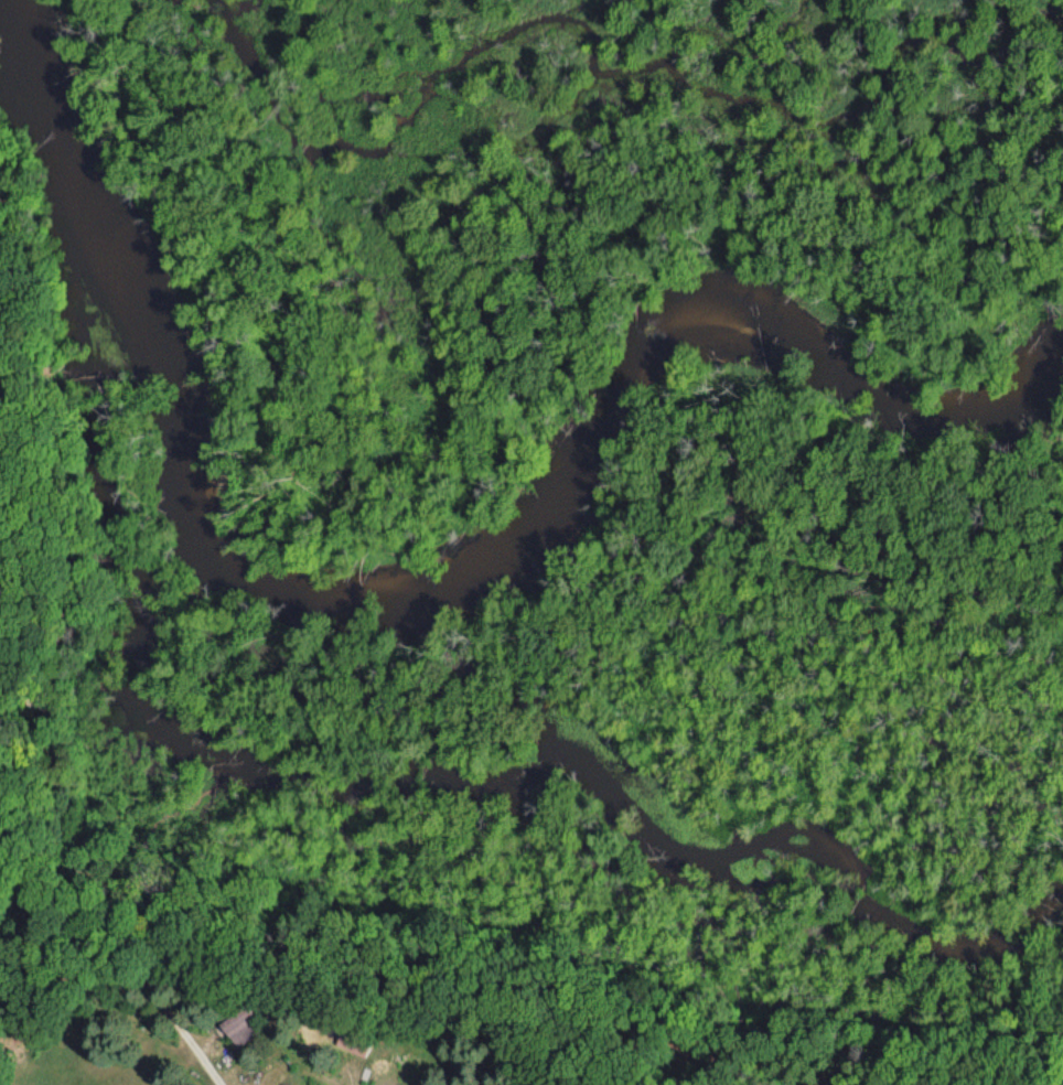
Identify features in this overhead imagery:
river: (447, 586)
building: (241, 1029)
building: (355, 1043)
road: (201, 1055)

